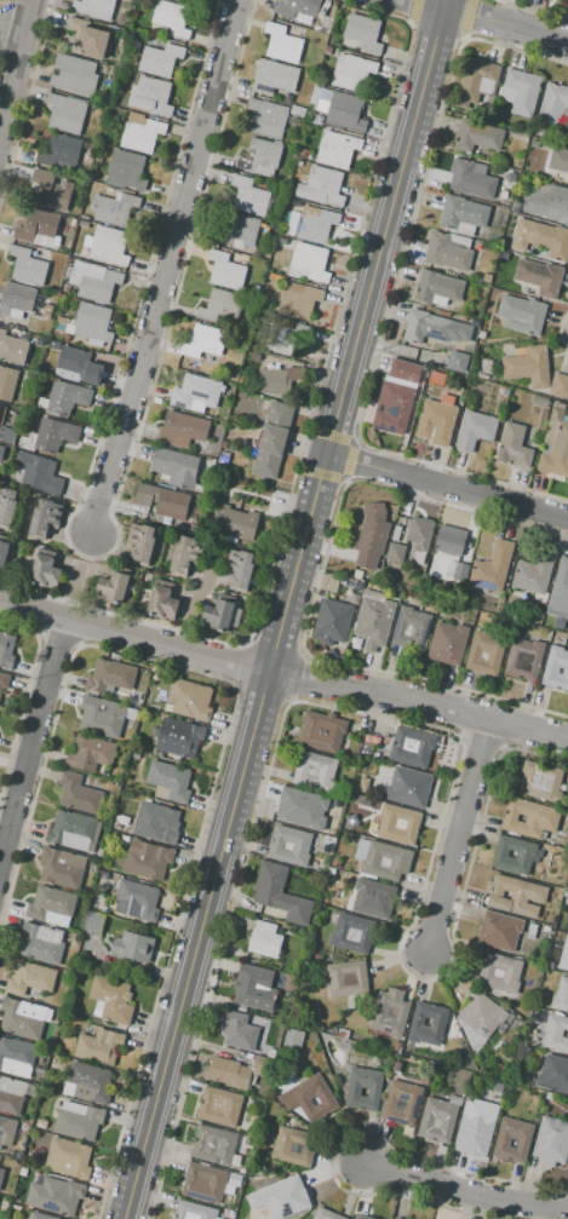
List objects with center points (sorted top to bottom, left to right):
building: (183, 0)
building: (567, 1)
road: (423, 5)
building: (92, 6)
building: (298, 7)
building: (171, 18)
road: (11, 24)
road: (507, 27)
building: (362, 31)
building: (86, 39)
building: (282, 44)
road: (13, 57)
building: (159, 59)
building: (351, 73)
building: (74, 75)
building: (272, 77)
building: (476, 81)
building: (520, 92)
building: (150, 96)
building: (552, 104)
building: (297, 111)
building: (344, 111)
building: (65, 113)
building: (266, 119)
building: (317, 120)
building: (142, 134)
building: (476, 136)
building: (534, 143)
building: (86, 144)
building: (57, 149)
building: (101, 150)
building: (335, 150)
building: (304, 153)
building: (259, 155)
building: (98, 159)
building: (558, 161)
building: (125, 171)
building: (510, 178)
building: (471, 180)
building: (321, 186)
building: (50, 192)
building: (504, 194)
building: (249, 196)
building: (547, 202)
building: (111, 207)
building: (463, 212)
building: (84, 224)
building: (314, 224)
building: (36, 225)
building: (237, 230)
building: (547, 238)
building: (108, 246)
building: (446, 253)
building: (503, 255)
building: (308, 263)
building: (27, 265)
building: (276, 265)
road: (167, 266)
building: (225, 271)
building: (540, 276)
building: (486, 277)
building: (93, 281)
building: (437, 287)
building: (67, 288)
building: (523, 291)
building: (16, 298)
building: (298, 300)
building: (219, 305)
building: (47, 309)
building: (45, 315)
building: (521, 315)
building: (61, 320)
building: (92, 323)
building: (474, 323)
building: (59, 327)
building: (434, 328)
building: (481, 334)
building: (283, 339)
building: (203, 341)
building: (54, 345)
building: (12, 349)
building: (455, 361)
building: (526, 364)
building: (78, 367)
building: (276, 379)
building: (436, 379)
building: (6, 383)
building: (558, 385)
building: (481, 389)
building: (195, 391)
building: (501, 391)
building: (67, 397)
building: (396, 397)
building: (539, 402)
building: (478, 406)
building: (1, 414)
building: (13, 422)
building: (435, 422)
building: (183, 427)
building: (475, 430)
building: (228, 433)
building: (53, 435)
building: (271, 439)
building: (555, 444)
building: (224, 445)
building: (512, 445)
building: (1, 450)
building: (223, 458)
building: (176, 467)
building: (38, 475)
road: (447, 485)
building: (163, 501)
building: (6, 507)
building: (42, 517)
building: (235, 522)
building: (396, 533)
building: (420, 533)
building: (371, 535)
building: (449, 540)
building: (140, 542)
building: (2, 552)
building: (395, 552)
building: (185, 554)
building: (239, 568)
building: (490, 568)
building: (45, 569)
building: (457, 570)
building: (533, 571)
building: (357, 574)
building: (111, 588)
road: (71, 591)
building: (560, 591)
building: (354, 596)
building: (162, 604)
road: (190, 605)
road: (285, 608)
building: (217, 615)
building: (332, 621)
building: (373, 622)
building: (411, 628)
road: (133, 637)
building: (447, 643)
building: (6, 651)
building: (483, 654)
building: (524, 659)
building: (556, 668)
building: (109, 677)
building: (4, 680)
building: (189, 700)
road: (418, 706)
building: (101, 717)
building: (321, 732)
building: (179, 737)
building: (367, 747)
building: (411, 747)
road: (34, 748)
building: (88, 753)
building: (314, 772)
building: (170, 780)
building: (540, 781)
building: (362, 784)
building: (408, 787)
building: (78, 793)
building: (362, 800)
building: (305, 809)
building: (528, 818)
building: (159, 821)
building: (351, 821)
building: (398, 824)
building: (70, 829)
building: (331, 833)
road: (457, 838)
building: (289, 846)
building: (528, 853)
building: (147, 859)
building: (383, 861)
building: (61, 867)
building: (279, 892)
building: (512, 895)
building: (373, 898)
building: (136, 899)
building: (51, 905)
building: (549, 928)
building: (499, 931)
building: (530, 931)
building: (351, 933)
building: (265, 939)
building: (40, 943)
building: (132, 947)
building: (563, 955)
building: (315, 958)
building: (500, 973)
building: (29, 978)
building: (346, 978)
building: (291, 983)
building: (254, 988)
building: (561, 995)
building: (111, 999)
building: (390, 1012)
building: (481, 1014)
building: (22, 1018)
building: (437, 1022)
building: (239, 1031)
building: (555, 1033)
building: (294, 1036)
building: (98, 1046)
building: (16, 1057)
building: (465, 1064)
building: (226, 1073)
building: (553, 1074)
building: (87, 1082)
building: (497, 1087)
building: (352, 1092)
building: (13, 1094)
building: (325, 1098)
building: (411, 1105)
building: (219, 1106)
building: (438, 1119)
building: (78, 1121)
building: (40, 1123)
building: (6, 1131)
building: (483, 1135)
building: (522, 1140)
building: (551, 1142)
building: (213, 1145)
building: (281, 1148)
building: (68, 1158)
building: (259, 1169)
building: (23, 1172)
building: (1, 1174)
building: (234, 1180)
building: (203, 1184)
road: (463, 1191)
building: (58, 1196)
building: (286, 1197)
building: (193, 1211)
building: (325, 1214)
building: (40, 1217)
building: (362, 1217)
building: (397, 1218)

